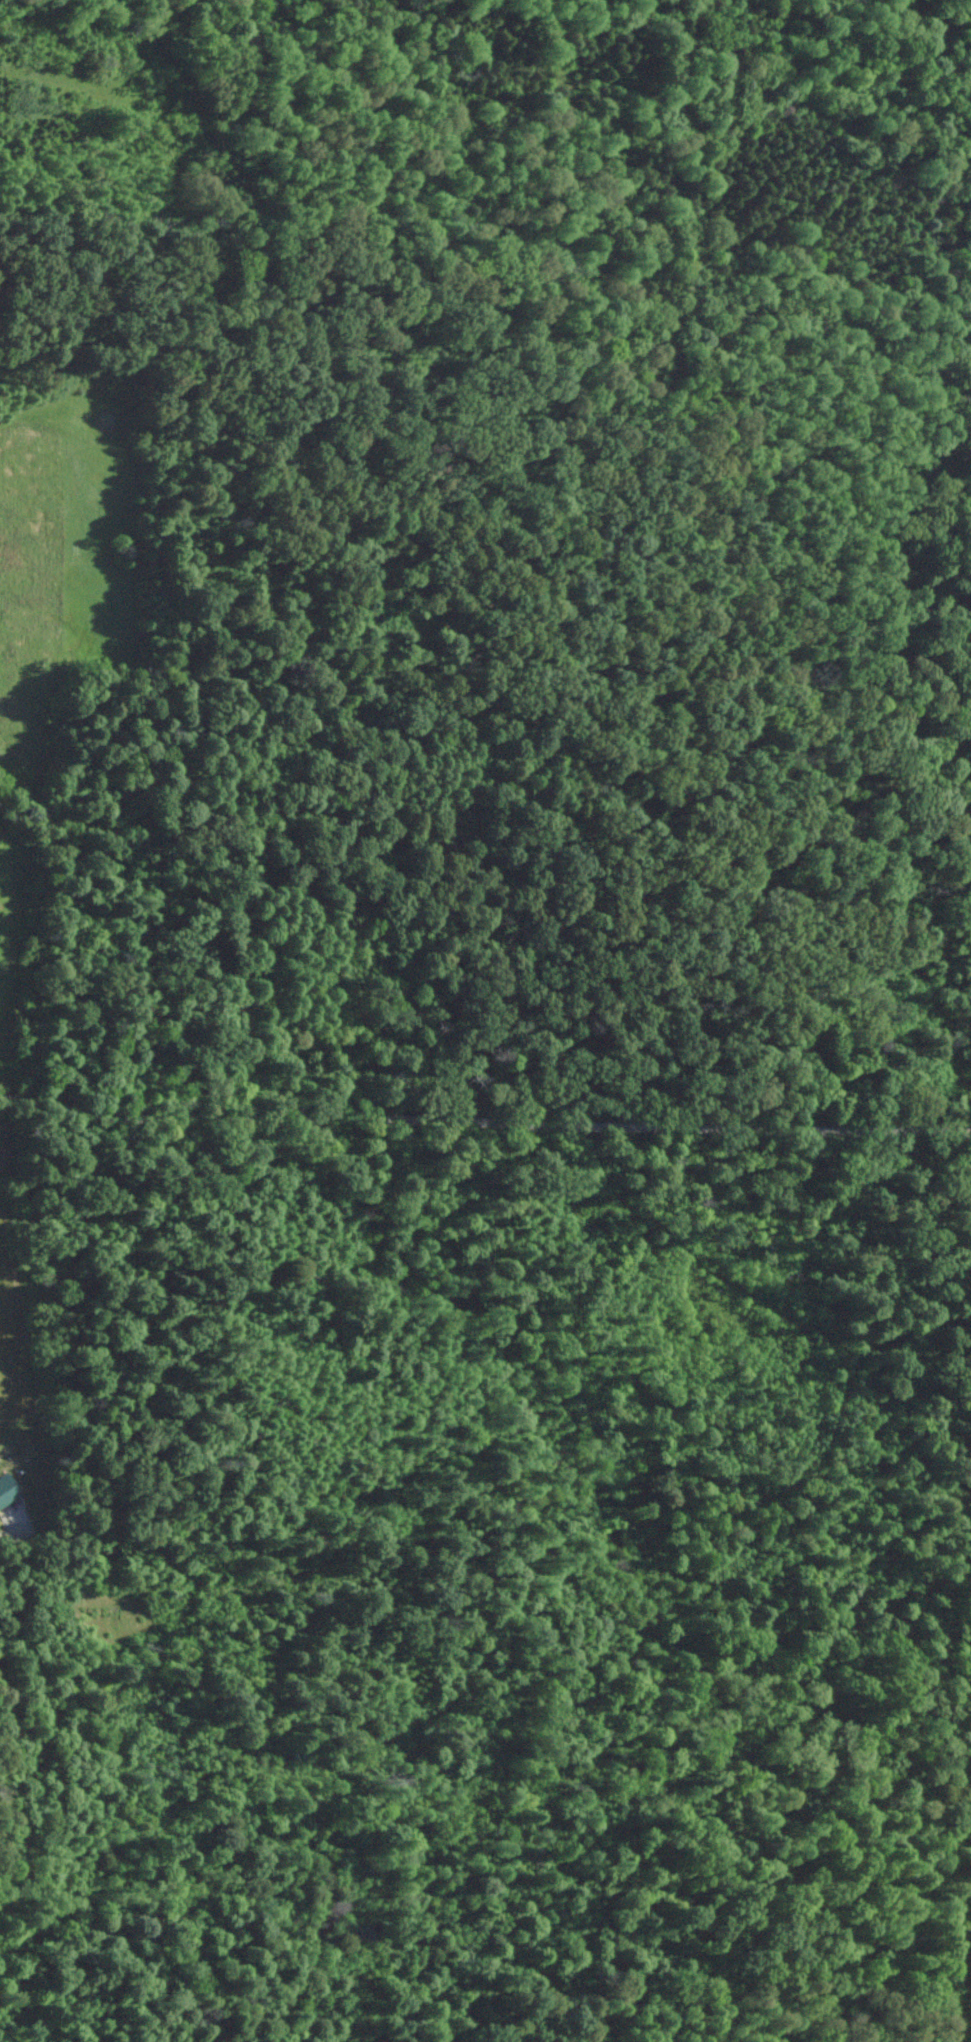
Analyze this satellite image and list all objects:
road: (483, 1126)

